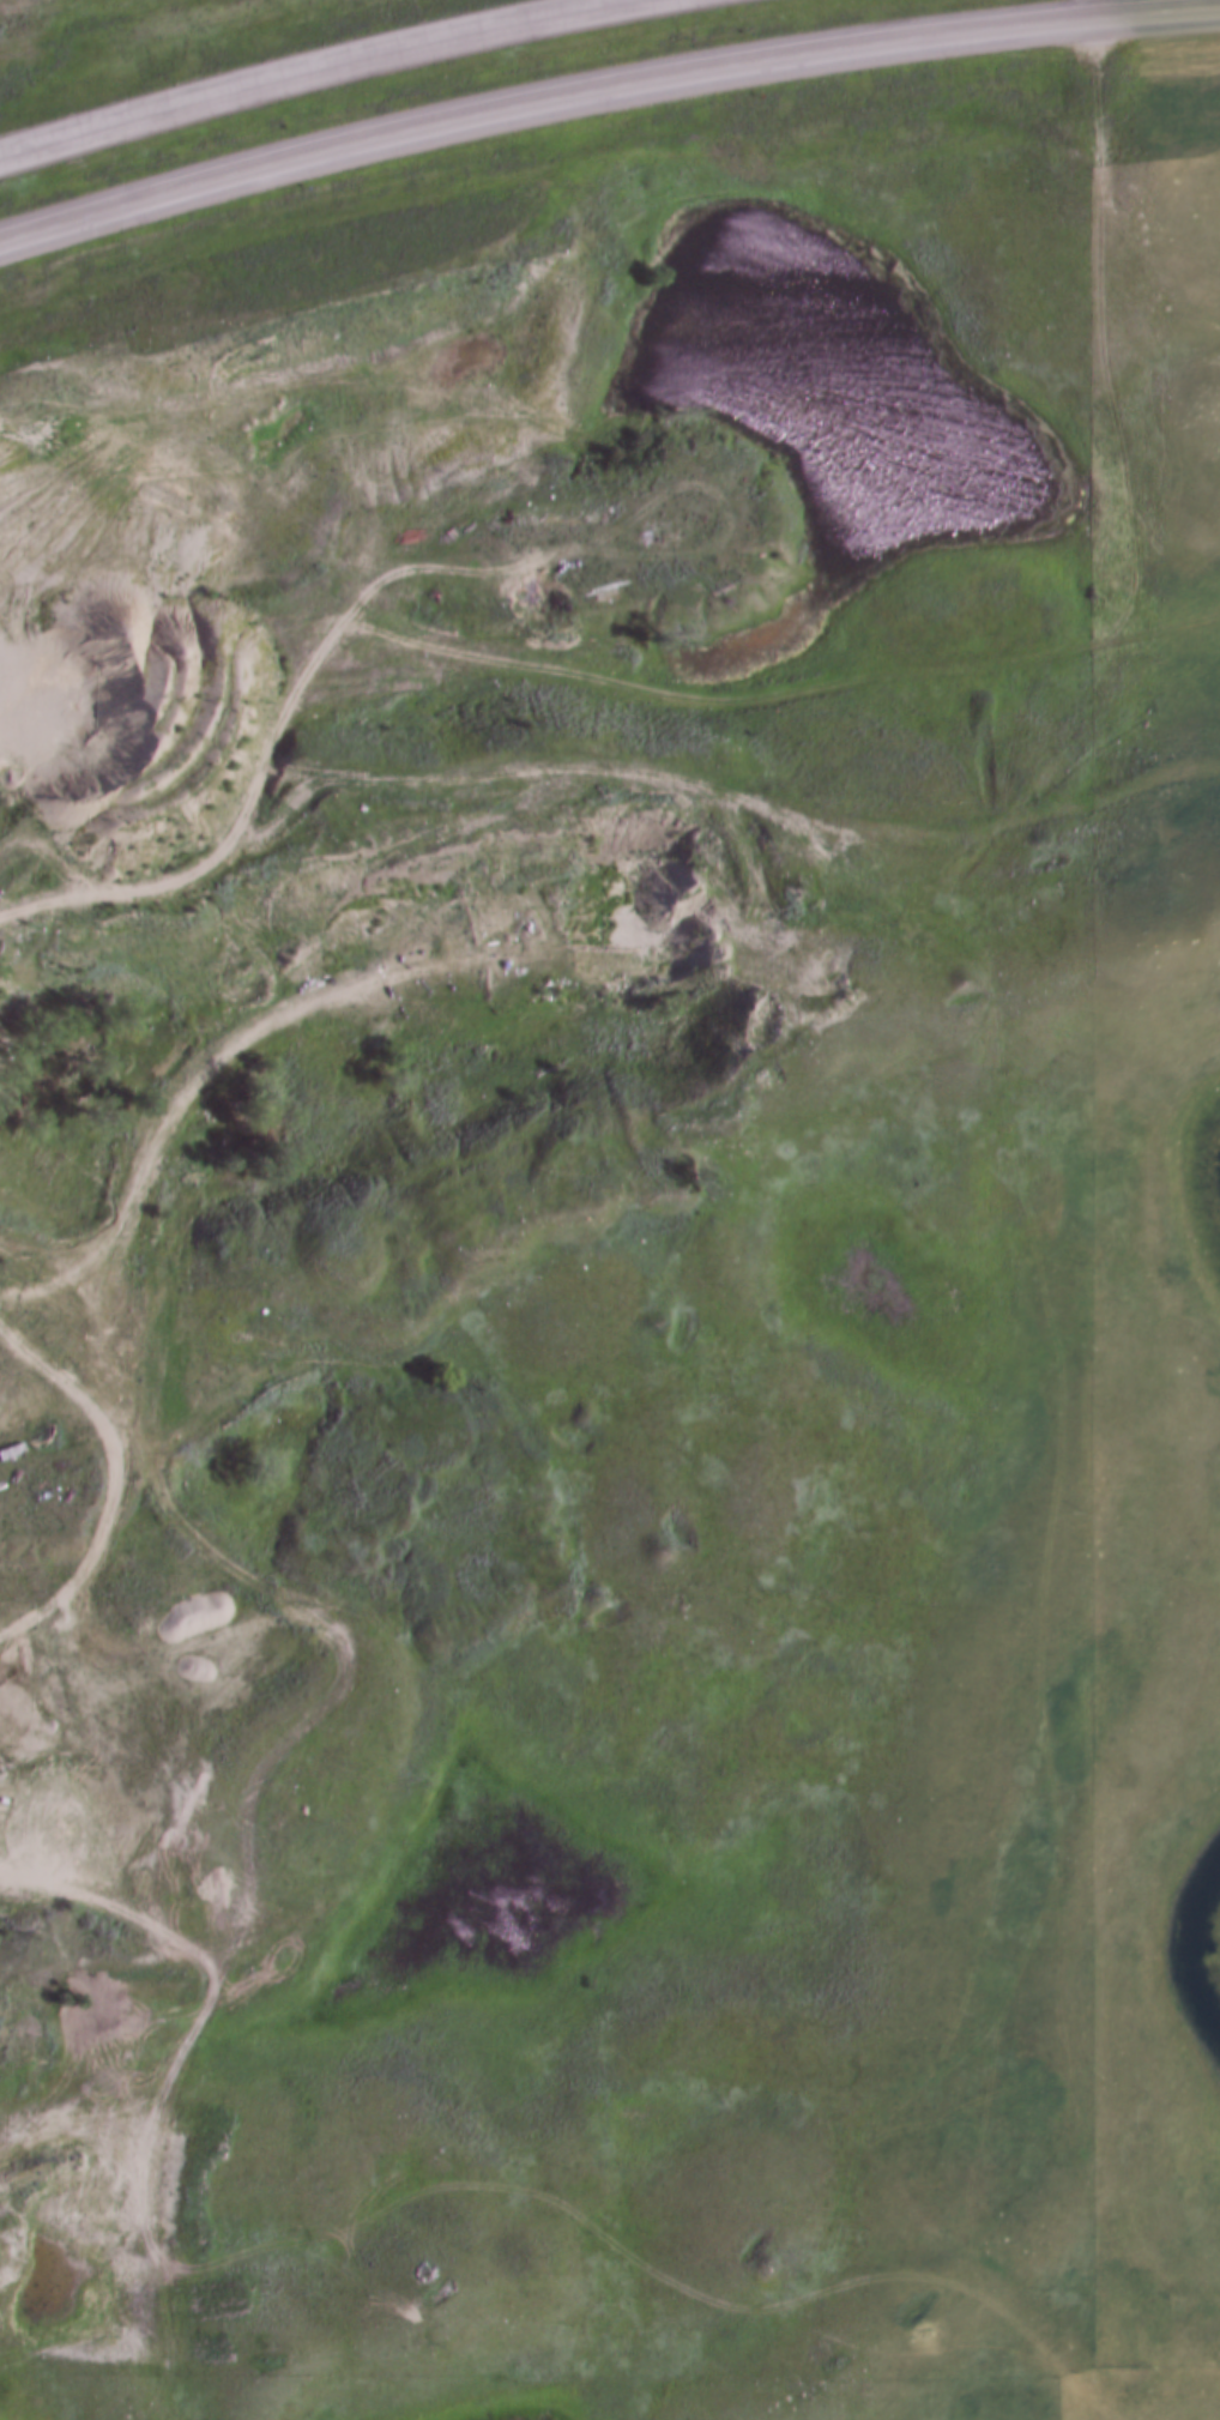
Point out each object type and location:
road: (1098, 10)
road: (322, 70)
road: (603, 97)
road: (1098, 331)
road: (92, 623)
road: (699, 696)
road: (98, 1541)
quarry: (58, 1865)

